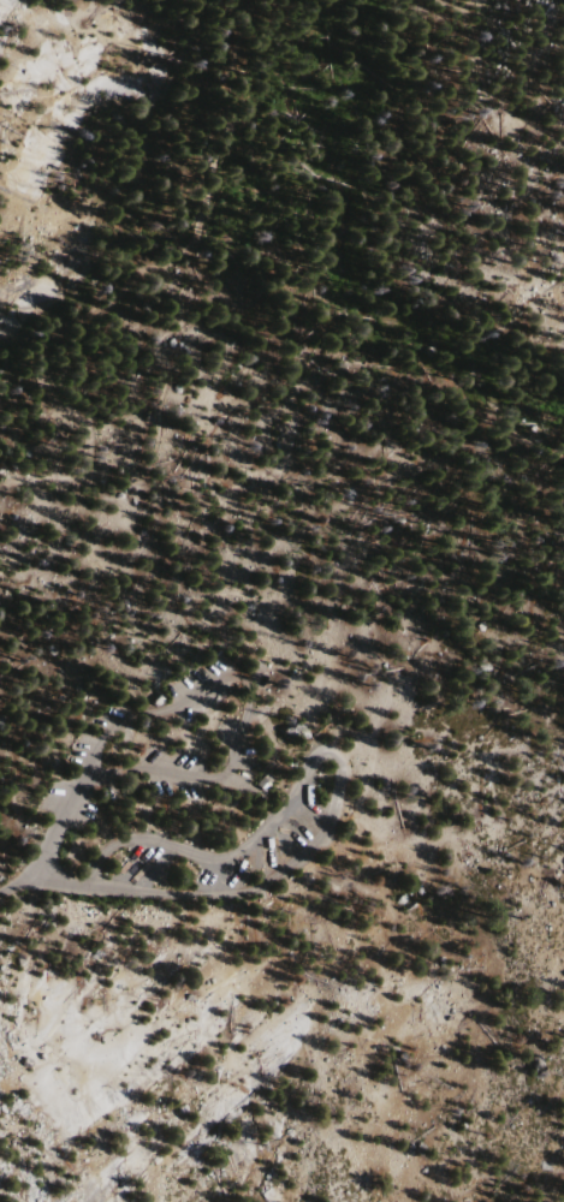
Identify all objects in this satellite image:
road: (127, 284)
road: (107, 477)
road: (6, 609)
road: (242, 613)
road: (273, 704)
road: (339, 764)
parking lot: (191, 783)
road: (19, 801)
road: (22, 869)

